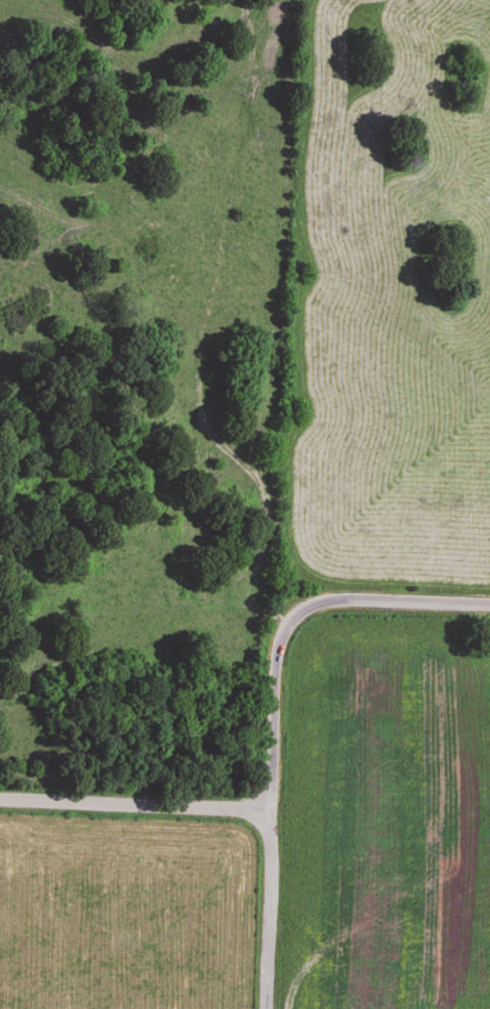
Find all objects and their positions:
road: (291, 616)
road: (136, 806)
road: (269, 910)

